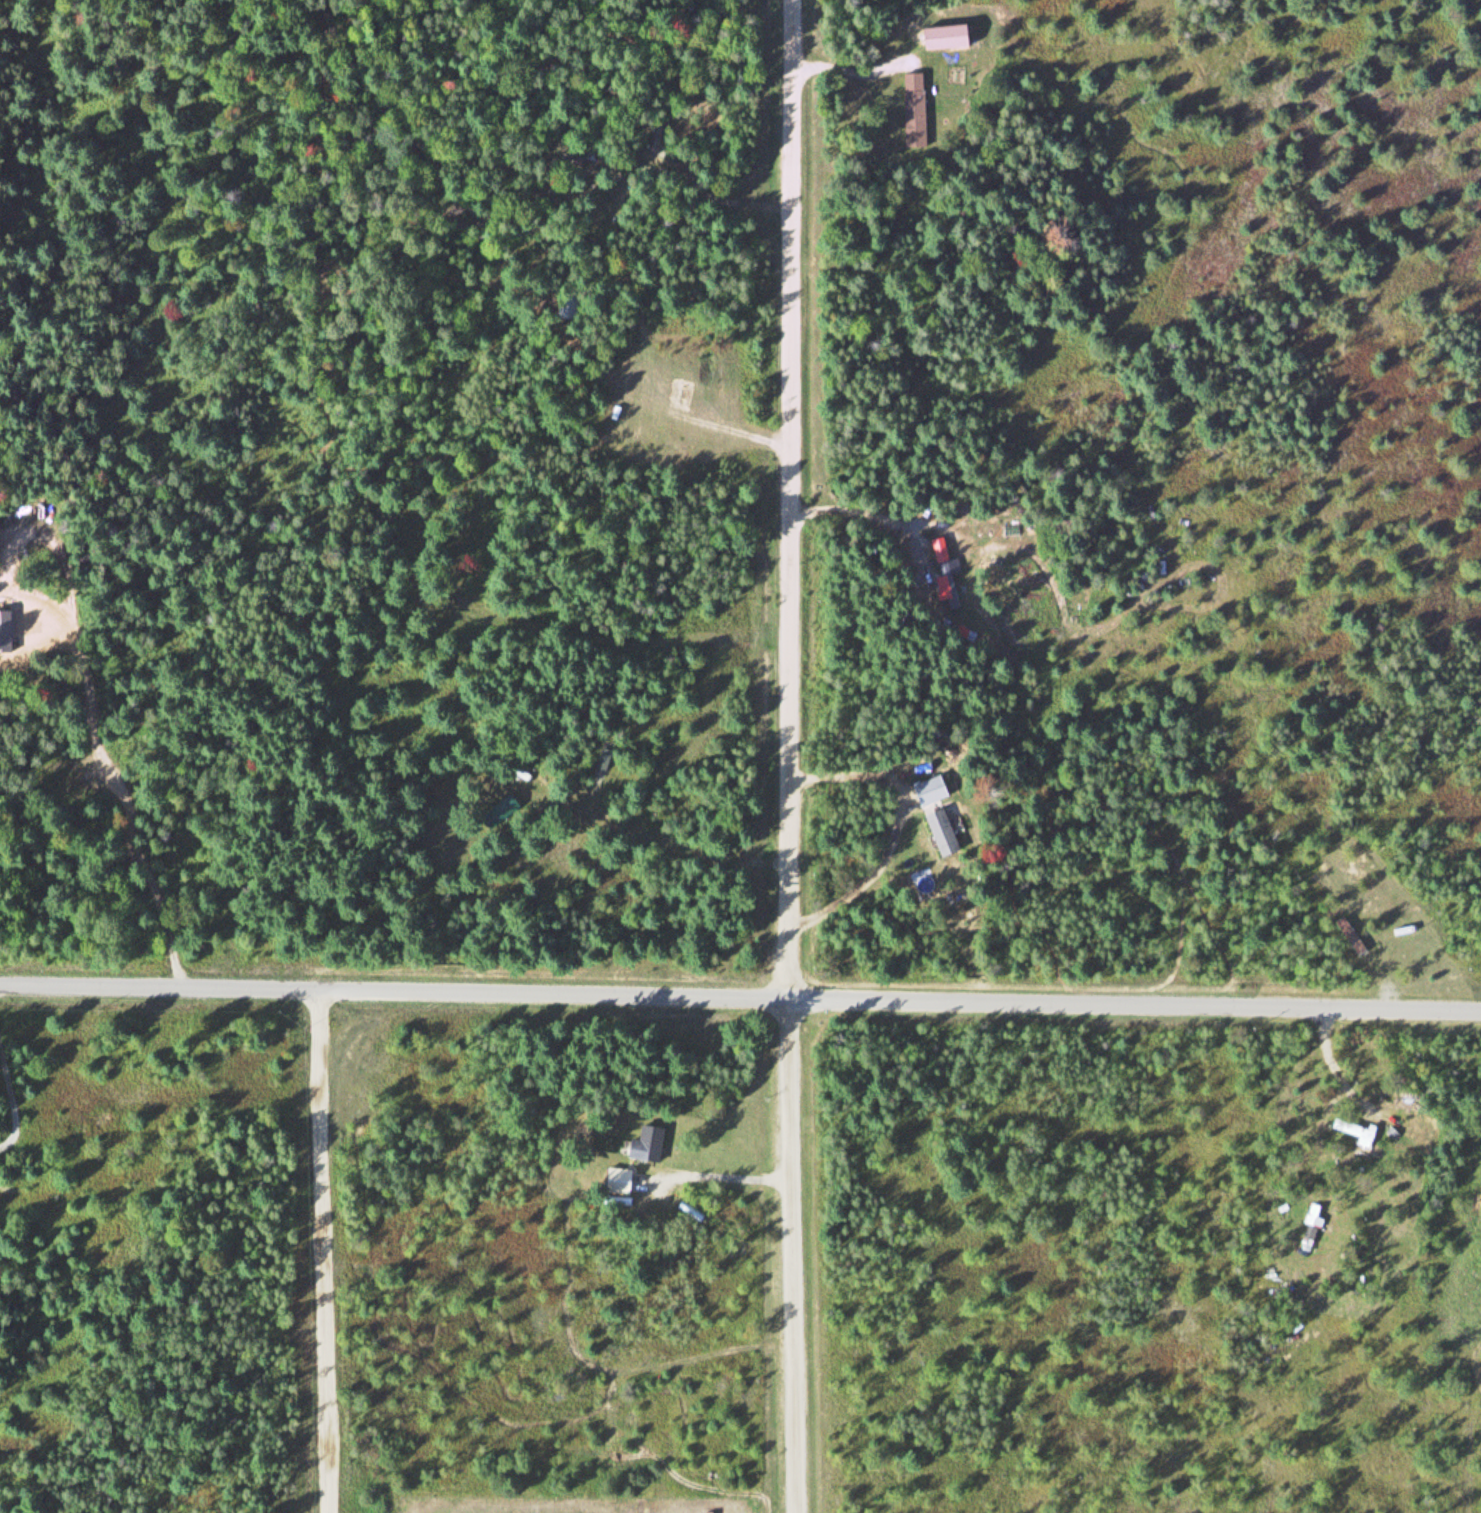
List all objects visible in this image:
building: (942, 37)
building: (912, 109)
road: (792, 501)
building: (948, 584)
building: (929, 790)
building: (940, 833)
building: (1350, 936)
road: (740, 1000)
building: (1355, 1132)
building: (645, 1144)
building: (622, 1181)
building: (1315, 1215)
road: (327, 1251)
road: (793, 1257)

